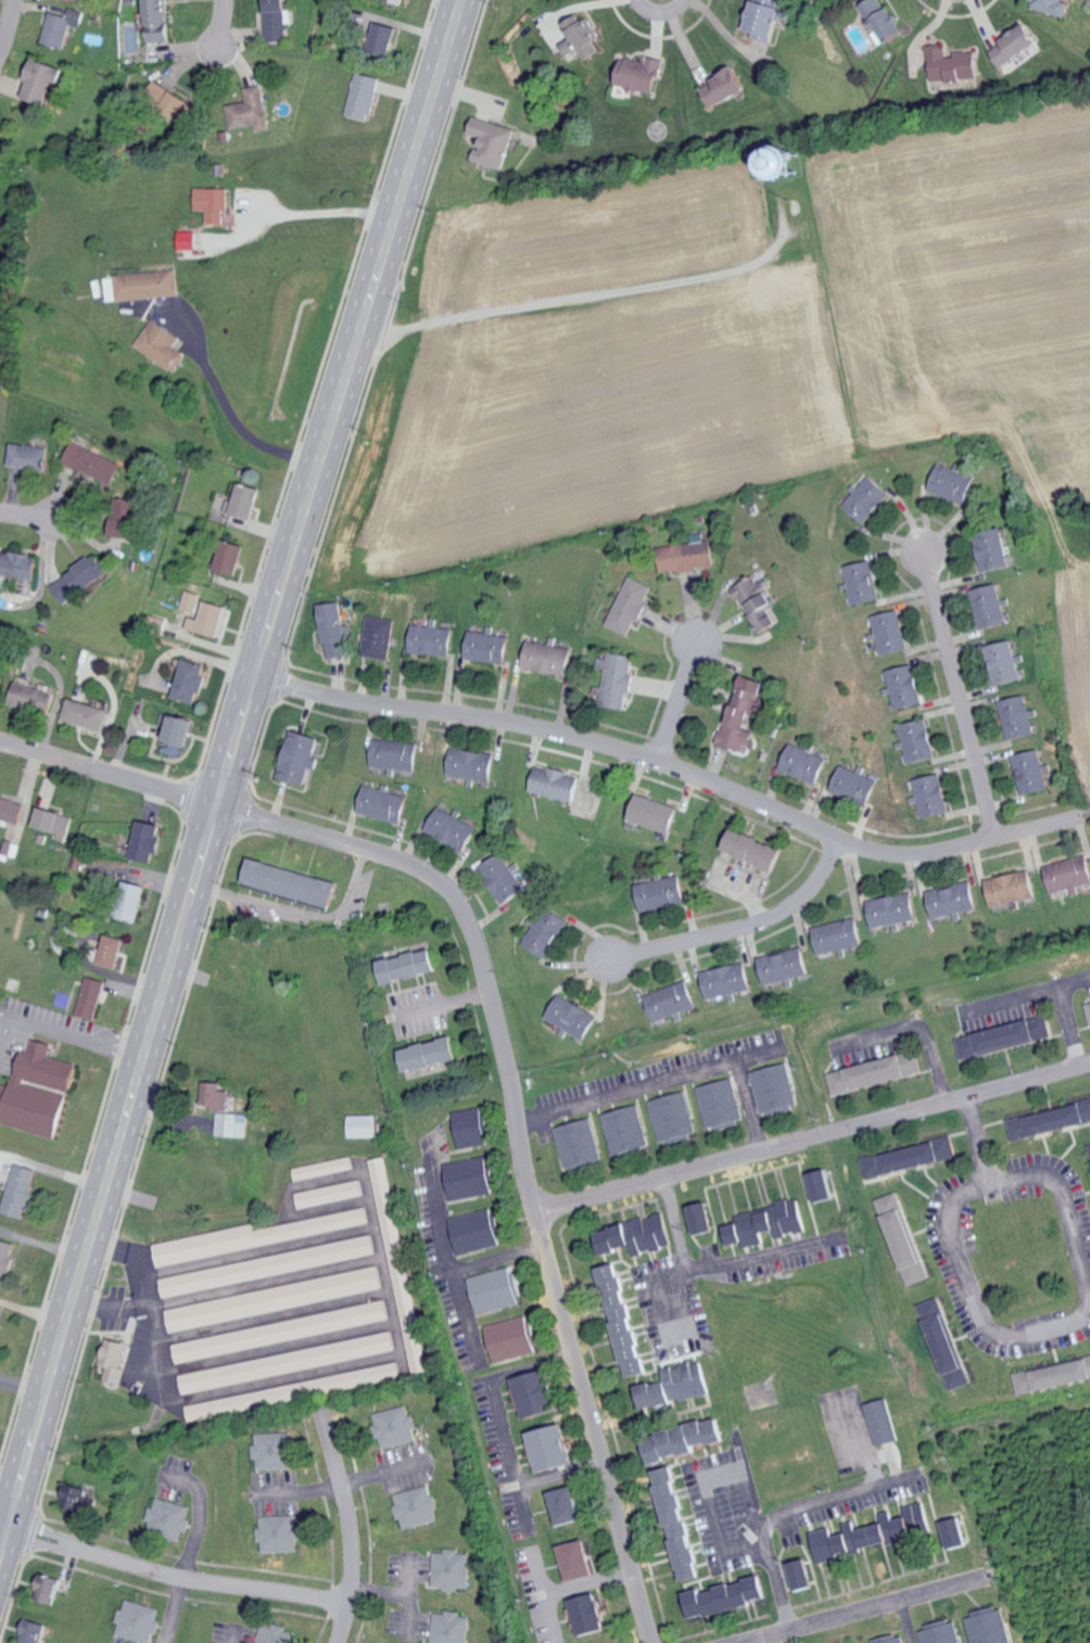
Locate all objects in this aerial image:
building: (401, 1)
building: (1049, 4)
road: (660, 17)
building: (771, 17)
road: (5, 20)
building: (276, 20)
building: (159, 21)
building: (886, 22)
building: (62, 26)
road: (219, 31)
building: (582, 37)
building: (383, 38)
building: (1017, 44)
building: (954, 64)
building: (643, 73)
building: (42, 80)
building: (727, 87)
building: (364, 95)
building: (180, 106)
building: (253, 110)
building: (493, 141)
building: (1, 170)
building: (217, 205)
road: (316, 211)
building: (191, 240)
building: (150, 284)
road: (599, 293)
building: (164, 345)
road: (235, 420)
building: (29, 456)
building: (92, 462)
building: (245, 500)
road: (31, 518)
building: (126, 518)
building: (996, 550)
building: (687, 555)
building: (229, 558)
building: (20, 565)
building: (79, 578)
building: (864, 582)
building: (189, 601)
building: (759, 603)
building: (629, 607)
building: (991, 607)
building: (208, 620)
building: (333, 629)
building: (891, 633)
building: (379, 637)
building: (433, 640)
building: (489, 647)
building: (548, 658)
building: (1005, 663)
building: (189, 679)
building: (616, 679)
building: (1, 683)
building: (905, 686)
building: (33, 698)
road: (958, 698)
road: (676, 706)
building: (85, 714)
building: (743, 714)
building: (1018, 717)
building: (175, 731)
building: (918, 740)
building: (299, 759)
building: (472, 764)
building: (803, 764)
road: (221, 769)
building: (1031, 772)
road: (669, 775)
road: (105, 778)
building: (556, 784)
building: (854, 785)
building: (931, 795)
building: (384, 804)
building: (11, 811)
building: (655, 814)
building: (53, 821)
building: (453, 829)
building: (148, 841)
building: (757, 851)
building: (1069, 874)
building: (504, 879)
building: (293, 883)
building: (1012, 889)
building: (661, 893)
building: (953, 900)
building: (131, 902)
building: (893, 909)
road: (299, 912)
building: (546, 932)
road: (740, 932)
building: (839, 937)
building: (114, 952)
building: (408, 966)
building: (786, 966)
building: (727, 981)
building: (91, 998)
road: (1007, 998)
building: (672, 1002)
road: (1062, 1010)
building: (1089, 1011)
building: (573, 1017)
road: (7, 1028)
road: (915, 1028)
building: (1003, 1035)
road: (75, 1037)
building: (431, 1055)
building: (874, 1071)
road: (649, 1086)
building: (774, 1088)
building: (38, 1090)
building: (216, 1095)
building: (720, 1103)
road: (746, 1108)
building: (673, 1117)
building: (1050, 1120)
building: (232, 1123)
building: (364, 1125)
building: (471, 1126)
building: (625, 1130)
road: (973, 1130)
road: (814, 1139)
road: (524, 1141)
building: (579, 1143)
building: (907, 1157)
building: (324, 1168)
road: (52, 1169)
building: (469, 1177)
road: (1062, 1182)
building: (823, 1184)
building: (21, 1189)
building: (330, 1194)
building: (702, 1217)
building: (768, 1223)
building: (476, 1231)
building: (637, 1234)
building: (256, 1235)
building: (903, 1237)
road: (444, 1250)
road: (761, 1254)
road: (499, 1257)
building: (7, 1258)
road: (685, 1264)
building: (268, 1265)
building: (401, 1269)
building: (497, 1288)
road: (971, 1294)
building: (275, 1298)
building: (624, 1317)
building: (281, 1330)
building: (514, 1338)
building: (946, 1342)
building: (115, 1359)
building: (288, 1362)
building: (1053, 1375)
building: (679, 1385)
building: (281, 1393)
building: (536, 1393)
road: (497, 1411)
building: (886, 1421)
building: (397, 1425)
building: (685, 1438)
road: (863, 1444)
building: (553, 1447)
building: (276, 1450)
road: (560, 1474)
road: (707, 1486)
building: (78, 1495)
building: (566, 1504)
building: (419, 1506)
road: (784, 1513)
road: (197, 1516)
building: (168, 1517)
building: (916, 1519)
building: (679, 1523)
road: (353, 1531)
building: (958, 1532)
building: (280, 1533)
building: (855, 1537)
building: (578, 1559)
building: (453, 1569)
building: (803, 1574)
road: (175, 1575)
road: (588, 1582)
building: (47, 1588)
road: (541, 1591)
road: (172, 1609)
road: (857, 1609)
building: (590, 1614)
building: (138, 1620)
road: (907, 1620)
building: (452, 1627)
building: (991, 1627)
building: (29, 1630)
building: (942, 1632)
building: (277, 1634)
road: (233, 1635)
building: (893, 1640)

